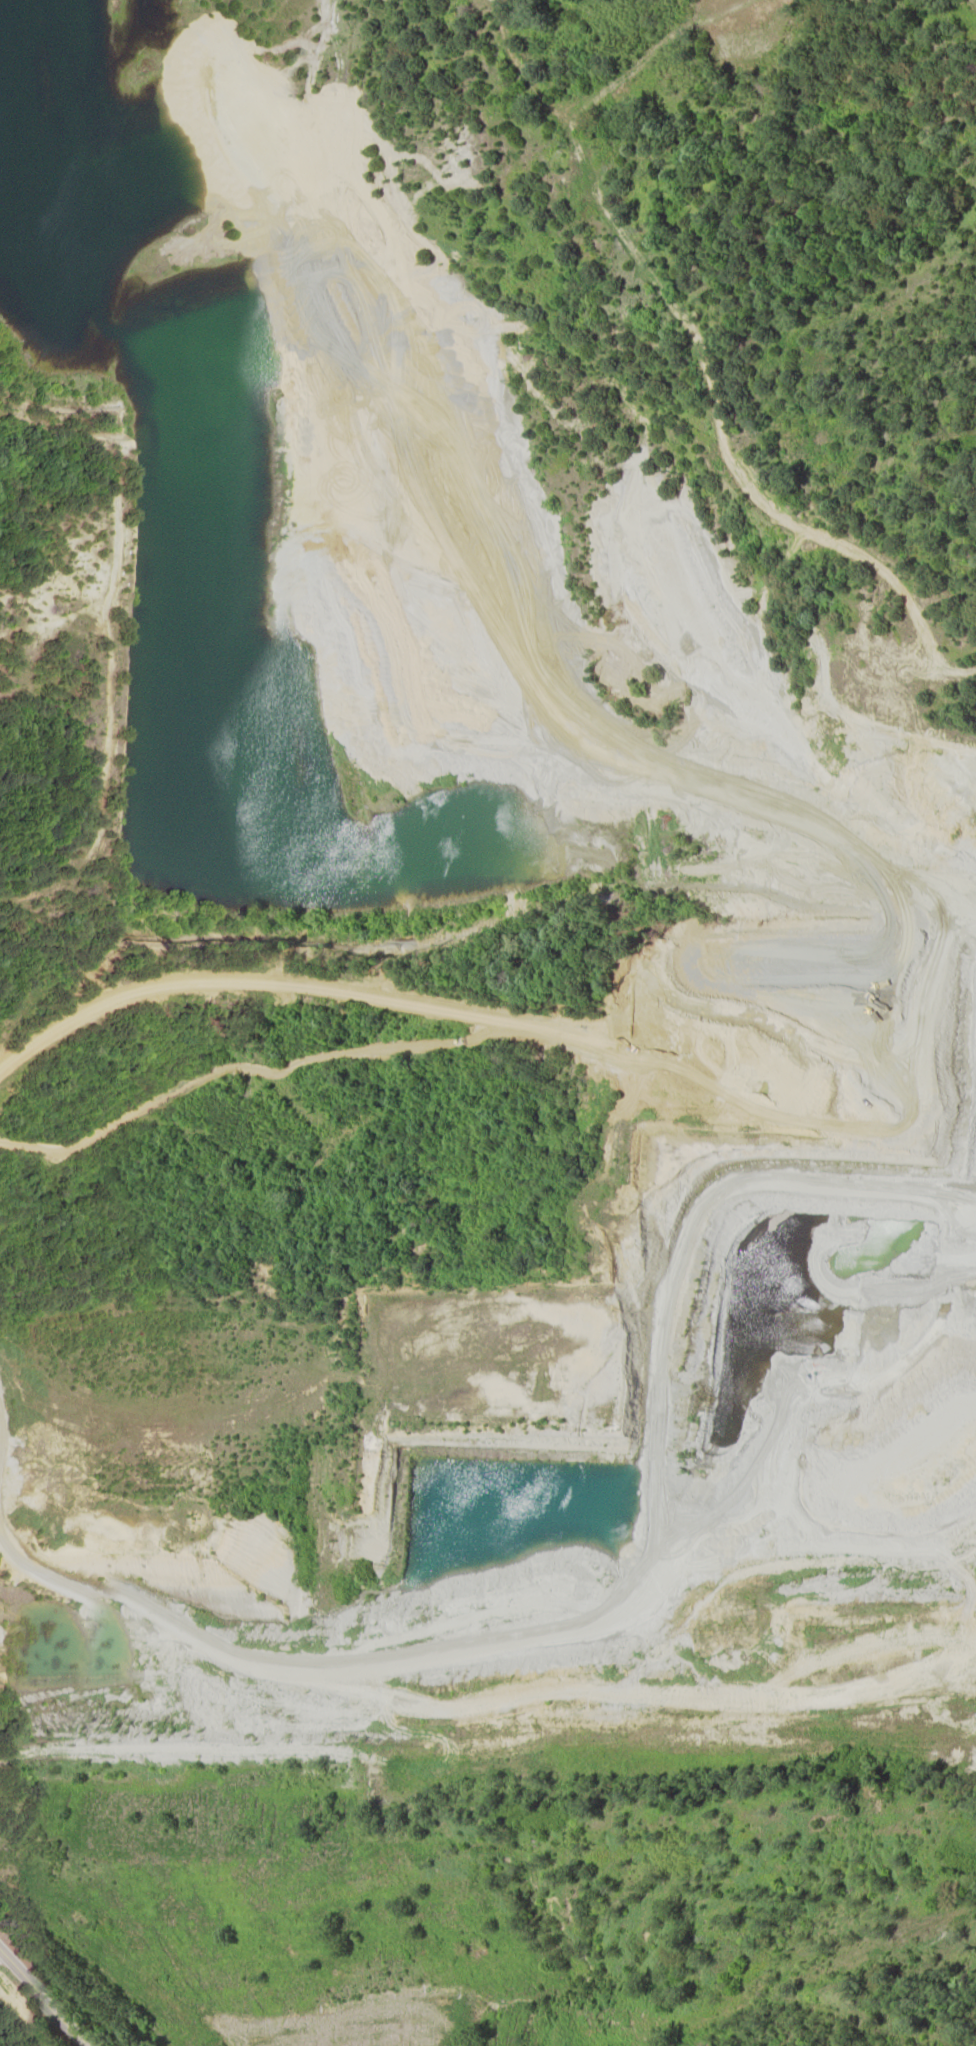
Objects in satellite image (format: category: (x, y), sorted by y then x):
road: (626, 1120)
road: (463, 1475)
road: (46, 2000)

